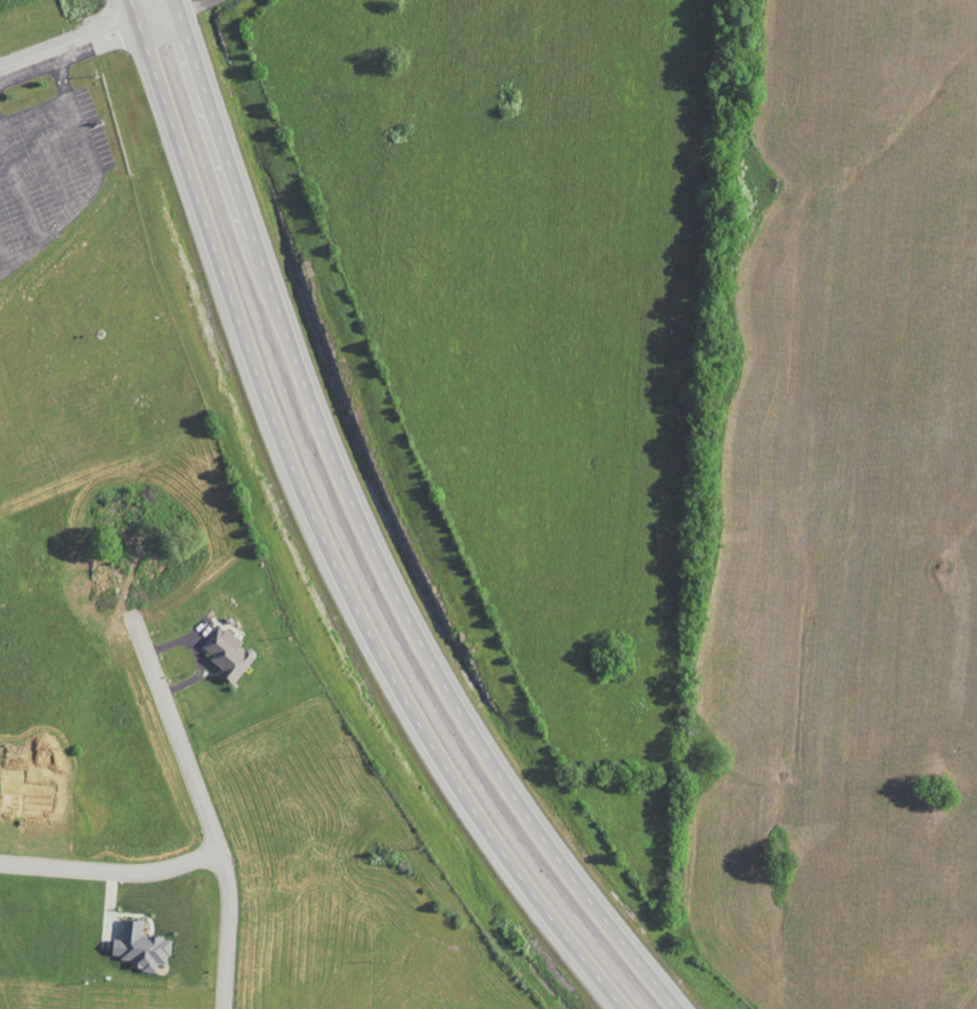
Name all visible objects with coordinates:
road: (115, 25)
road: (29, 72)
road: (35, 109)
road: (3, 123)
road: (50, 162)
road: (21, 183)
road: (94, 190)
road: (5, 267)
road: (322, 533)
road: (371, 534)
building: (227, 654)
road: (202, 809)
road: (110, 870)
building: (139, 947)

